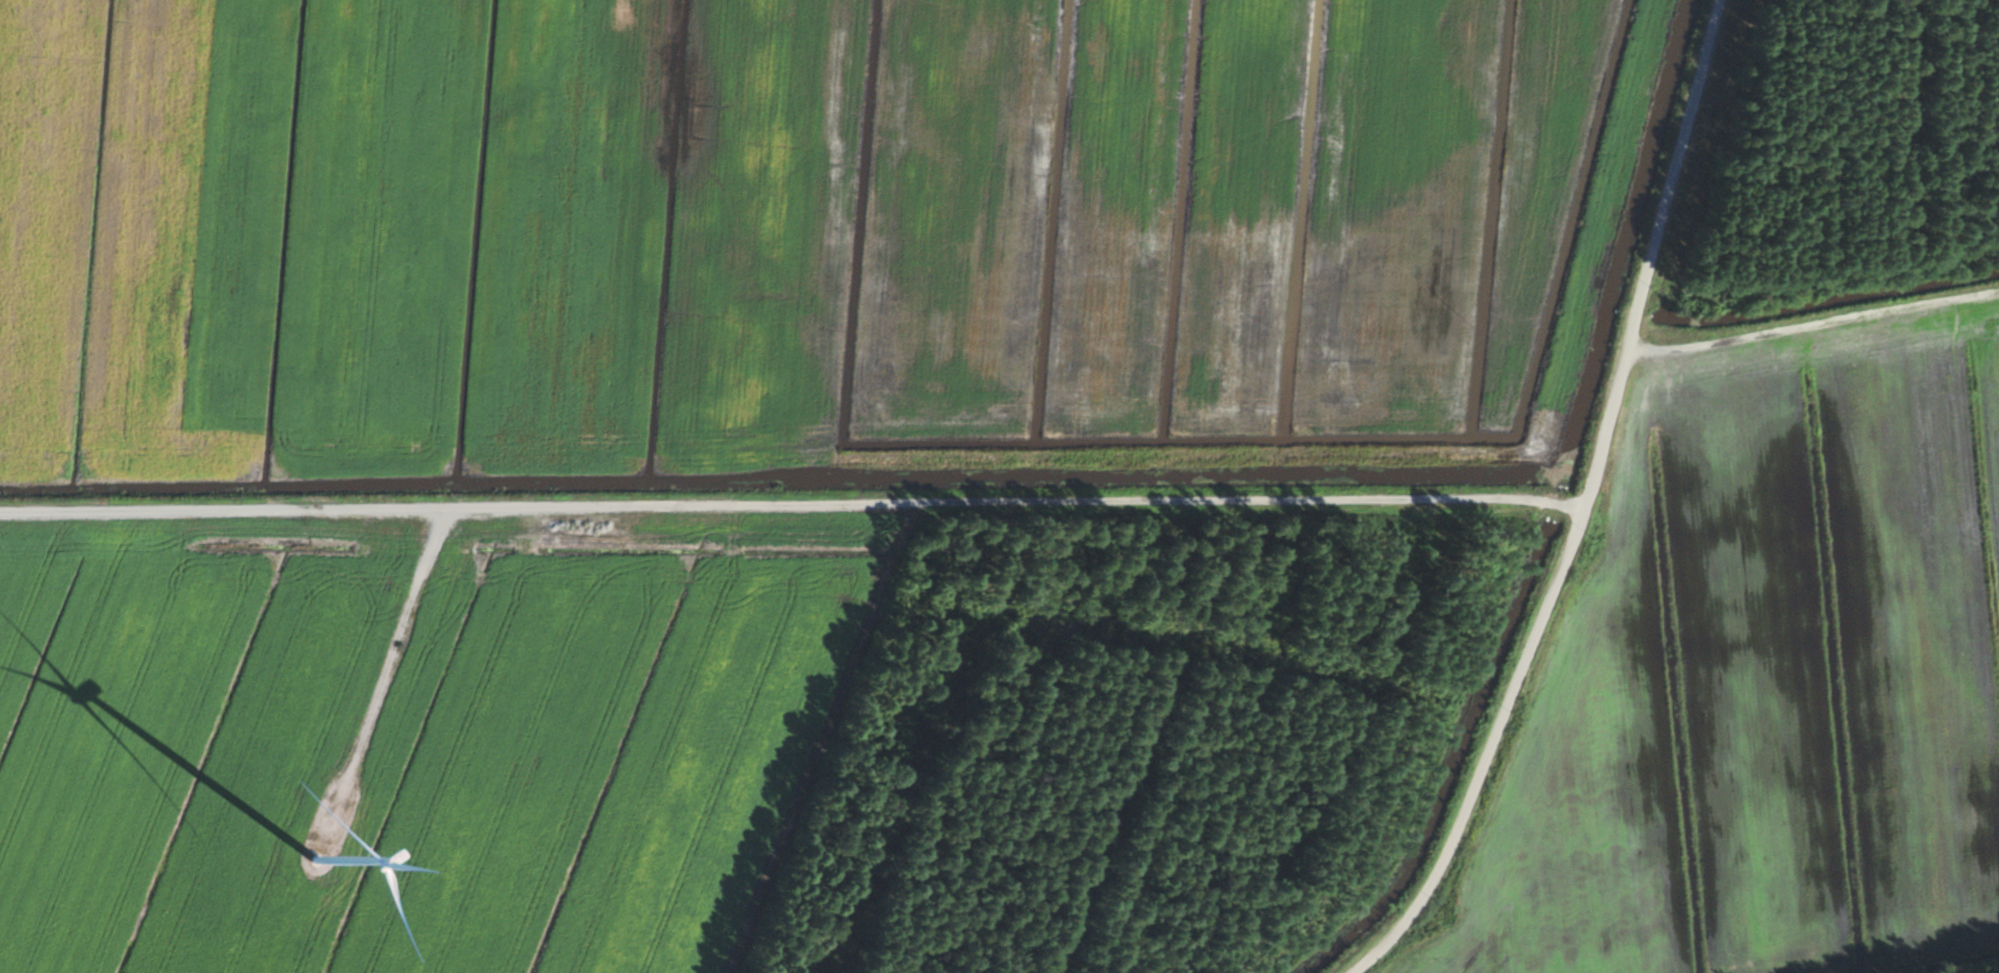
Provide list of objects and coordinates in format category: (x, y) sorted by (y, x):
road: (1813, 318)
road: (1590, 509)
road: (796, 510)
wind turbine: (306, 854)

